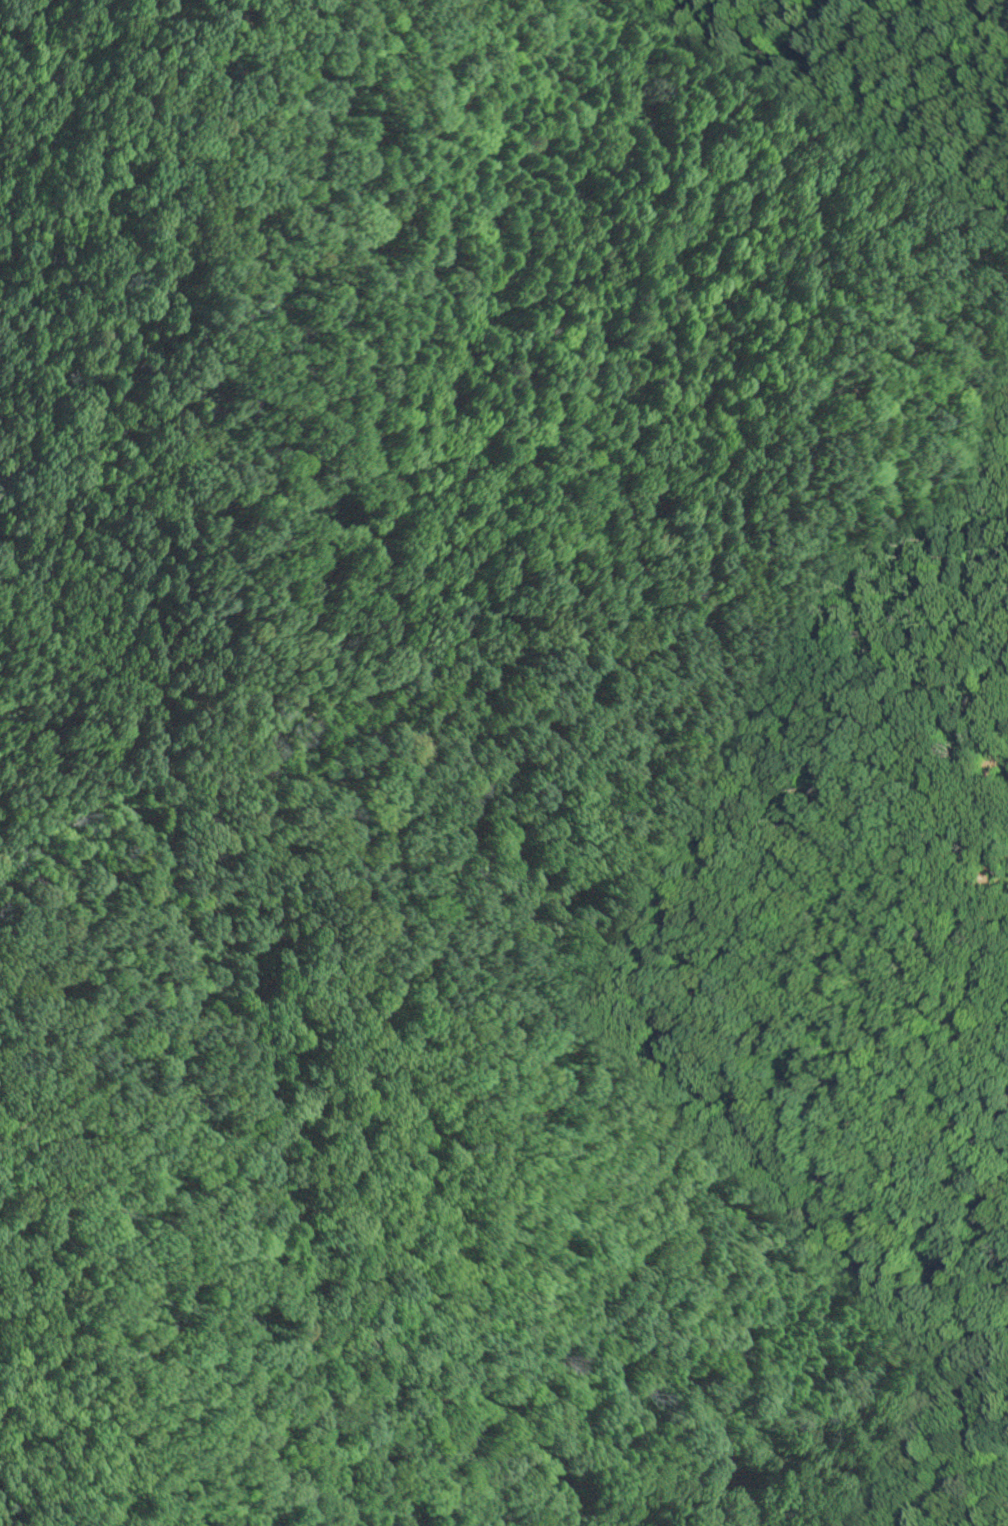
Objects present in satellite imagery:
road: (935, 1489)

